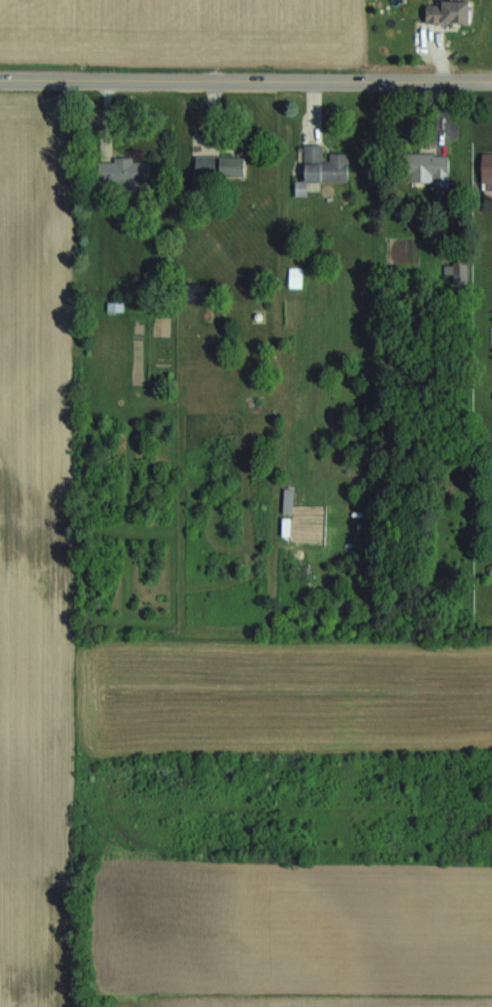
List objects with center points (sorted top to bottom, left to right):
building: (451, 13)
crop: (180, 34)
road: (246, 80)
building: (326, 166)
building: (222, 167)
building: (425, 168)
building: (488, 169)
building: (125, 172)
building: (196, 295)
building: (116, 307)
building: (288, 527)

